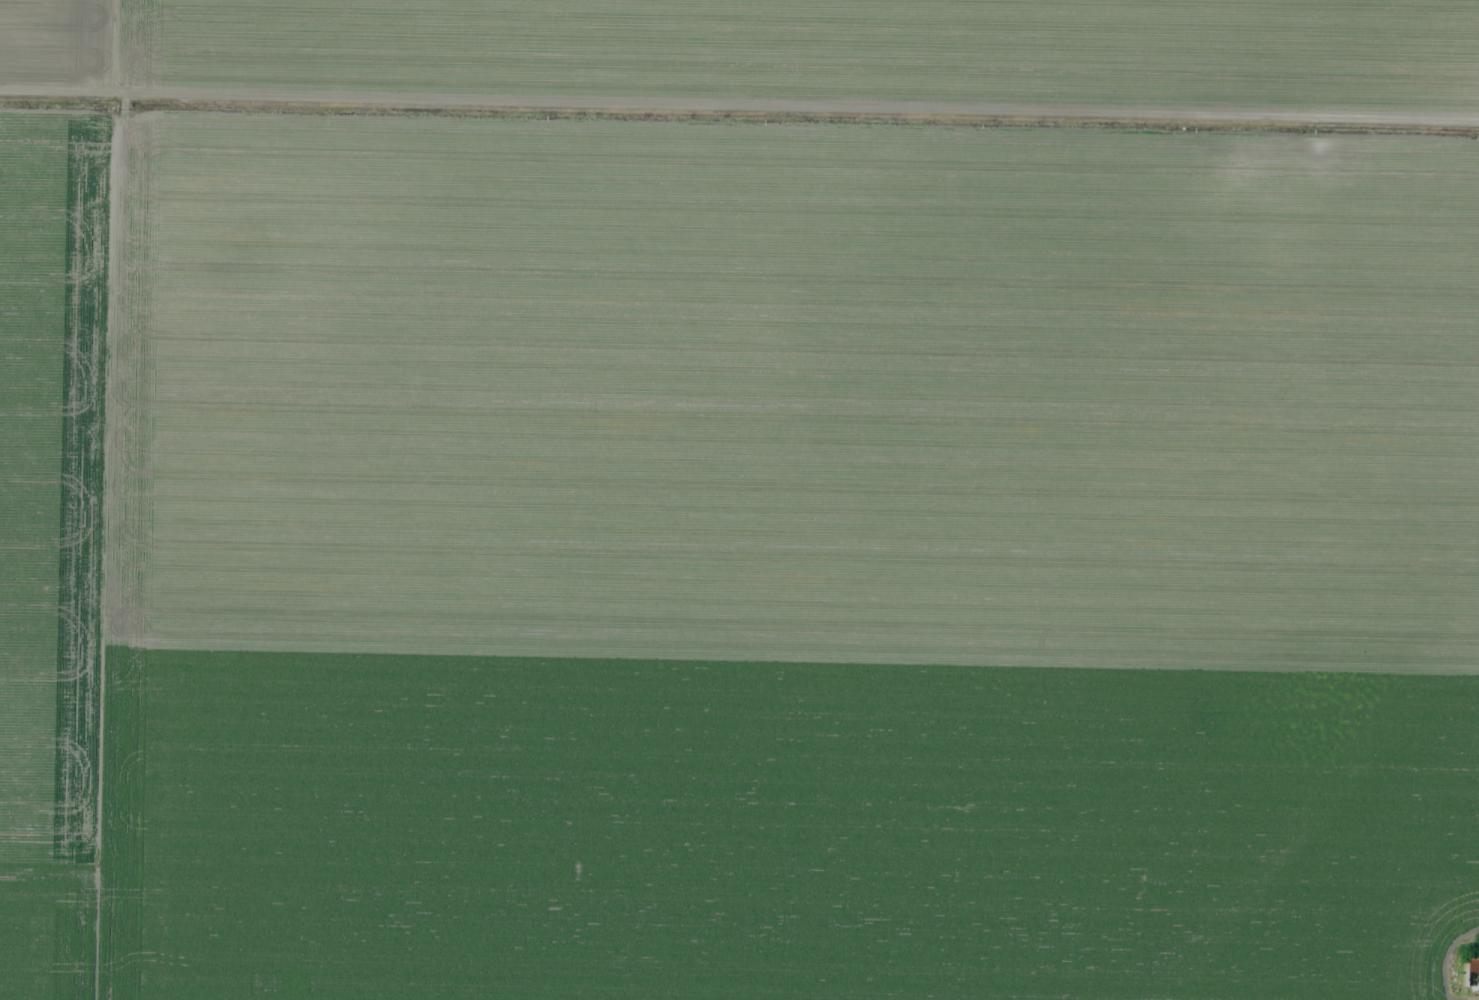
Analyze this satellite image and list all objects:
road: (739, 99)
building: (1469, 971)

